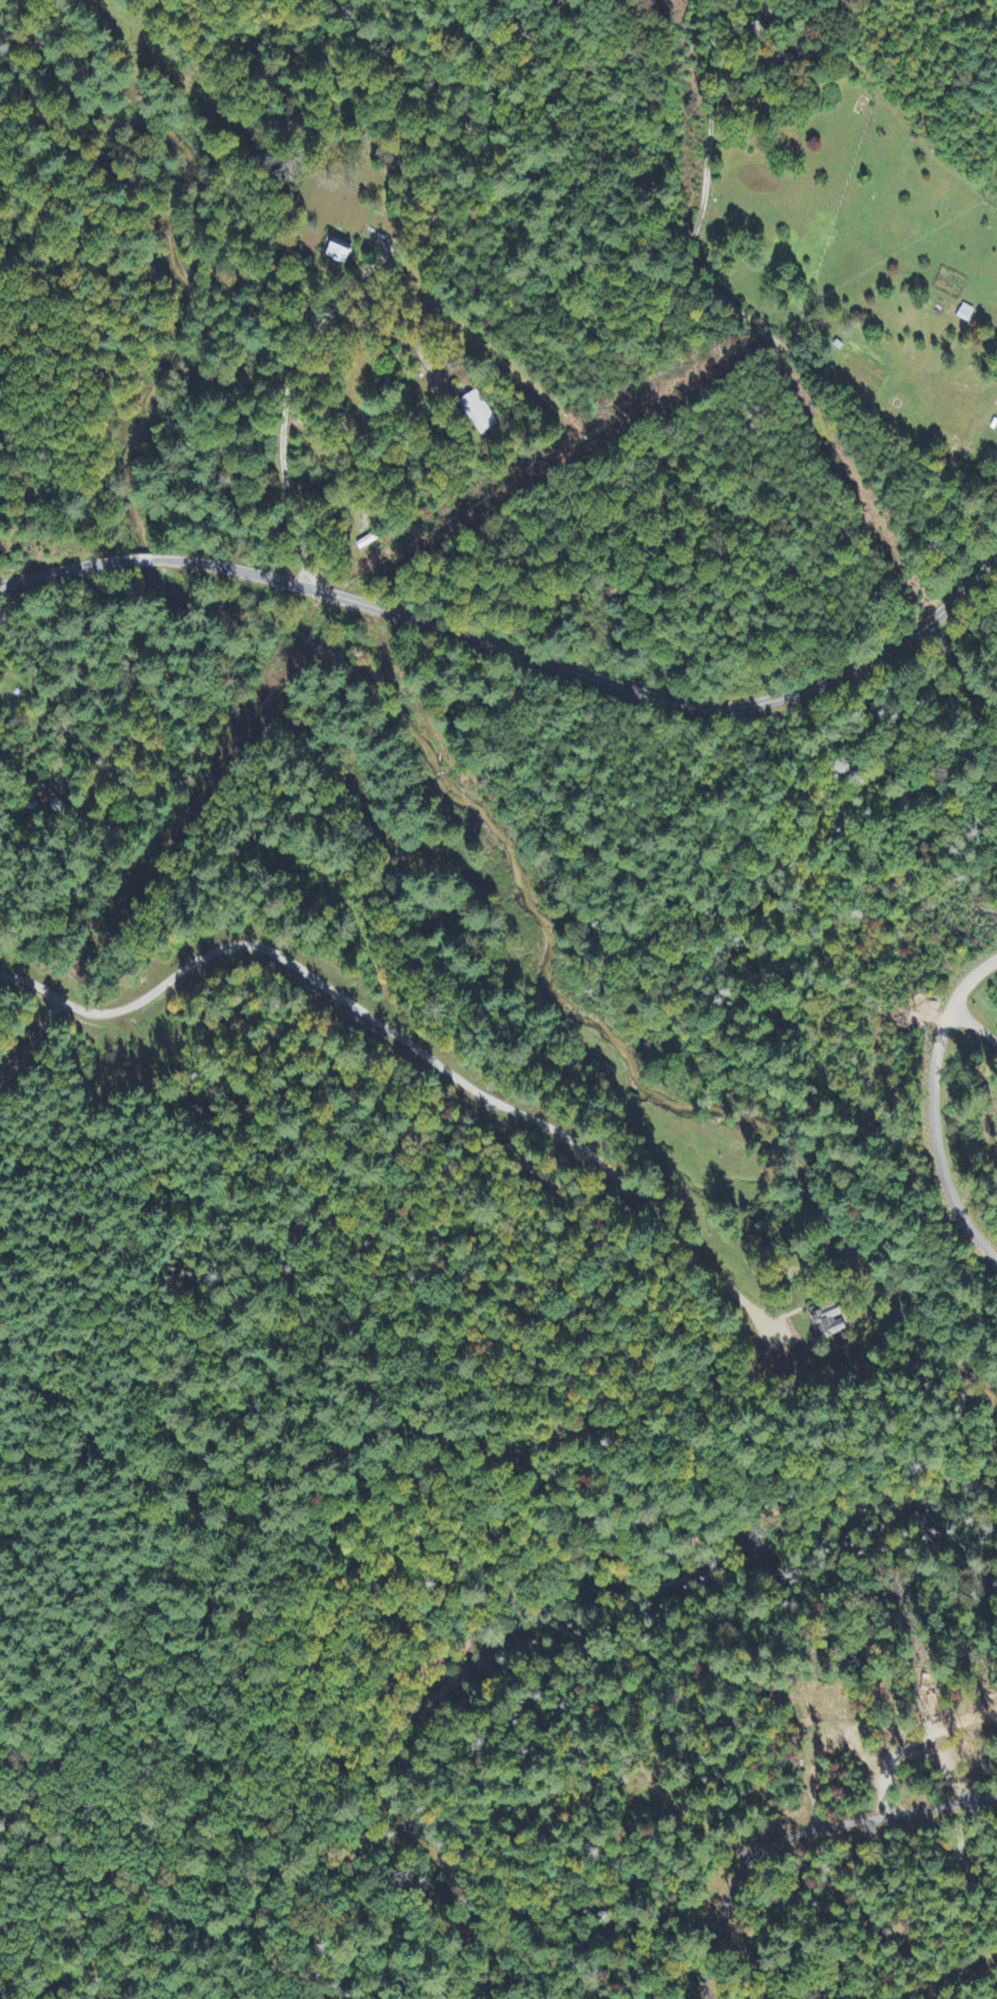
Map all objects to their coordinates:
building: (339, 255)
road: (345, 290)
road: (727, 310)
building: (478, 415)
road: (55, 574)
road: (568, 672)
road: (411, 1089)
road: (932, 1107)
building: (933, 1705)

